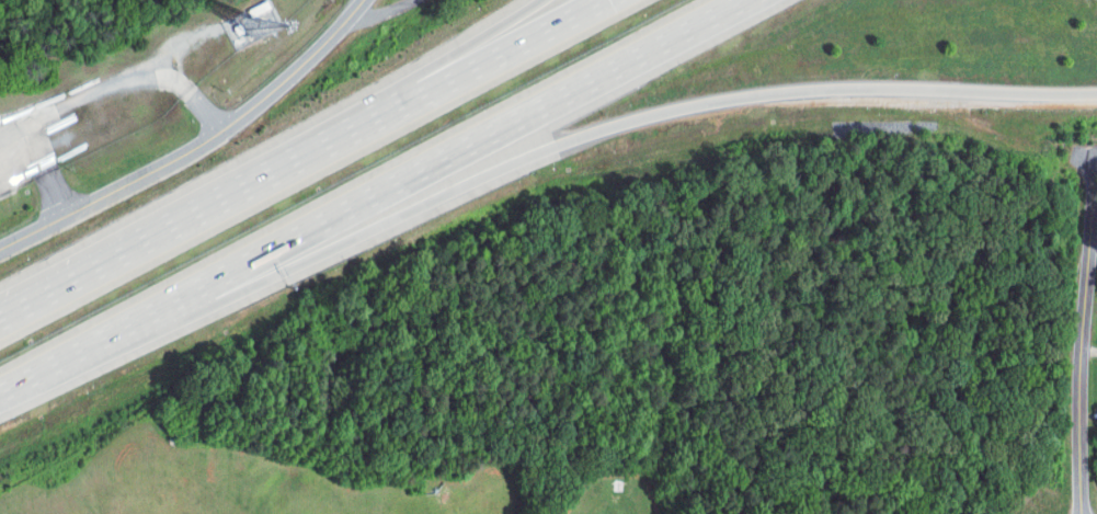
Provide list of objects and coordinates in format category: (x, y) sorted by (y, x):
road: (437, 72)
road: (88, 91)
road: (1096, 92)
road: (192, 132)
road: (526, 158)
road: (300, 163)
road: (367, 194)
road: (1081, 331)

